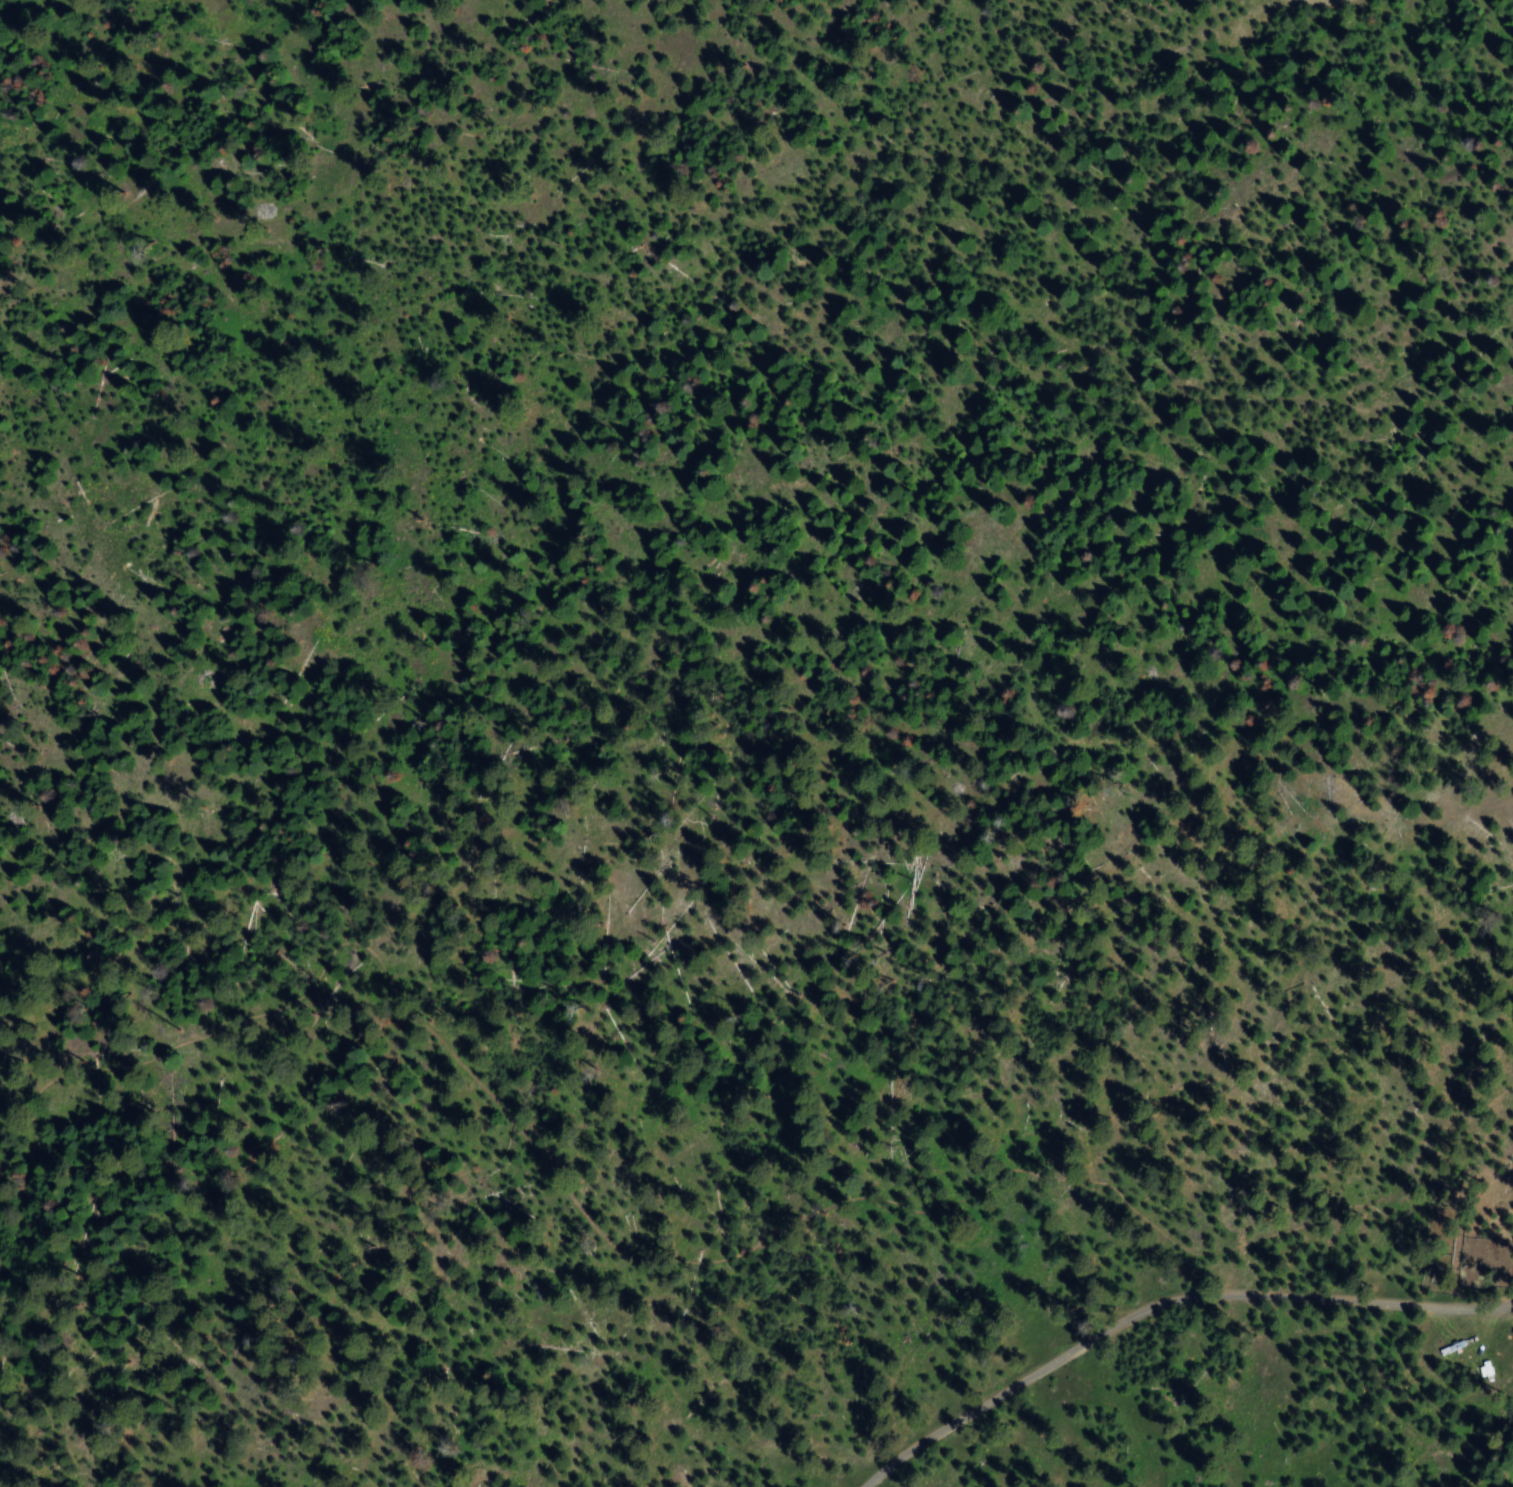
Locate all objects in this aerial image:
road: (1166, 1317)

